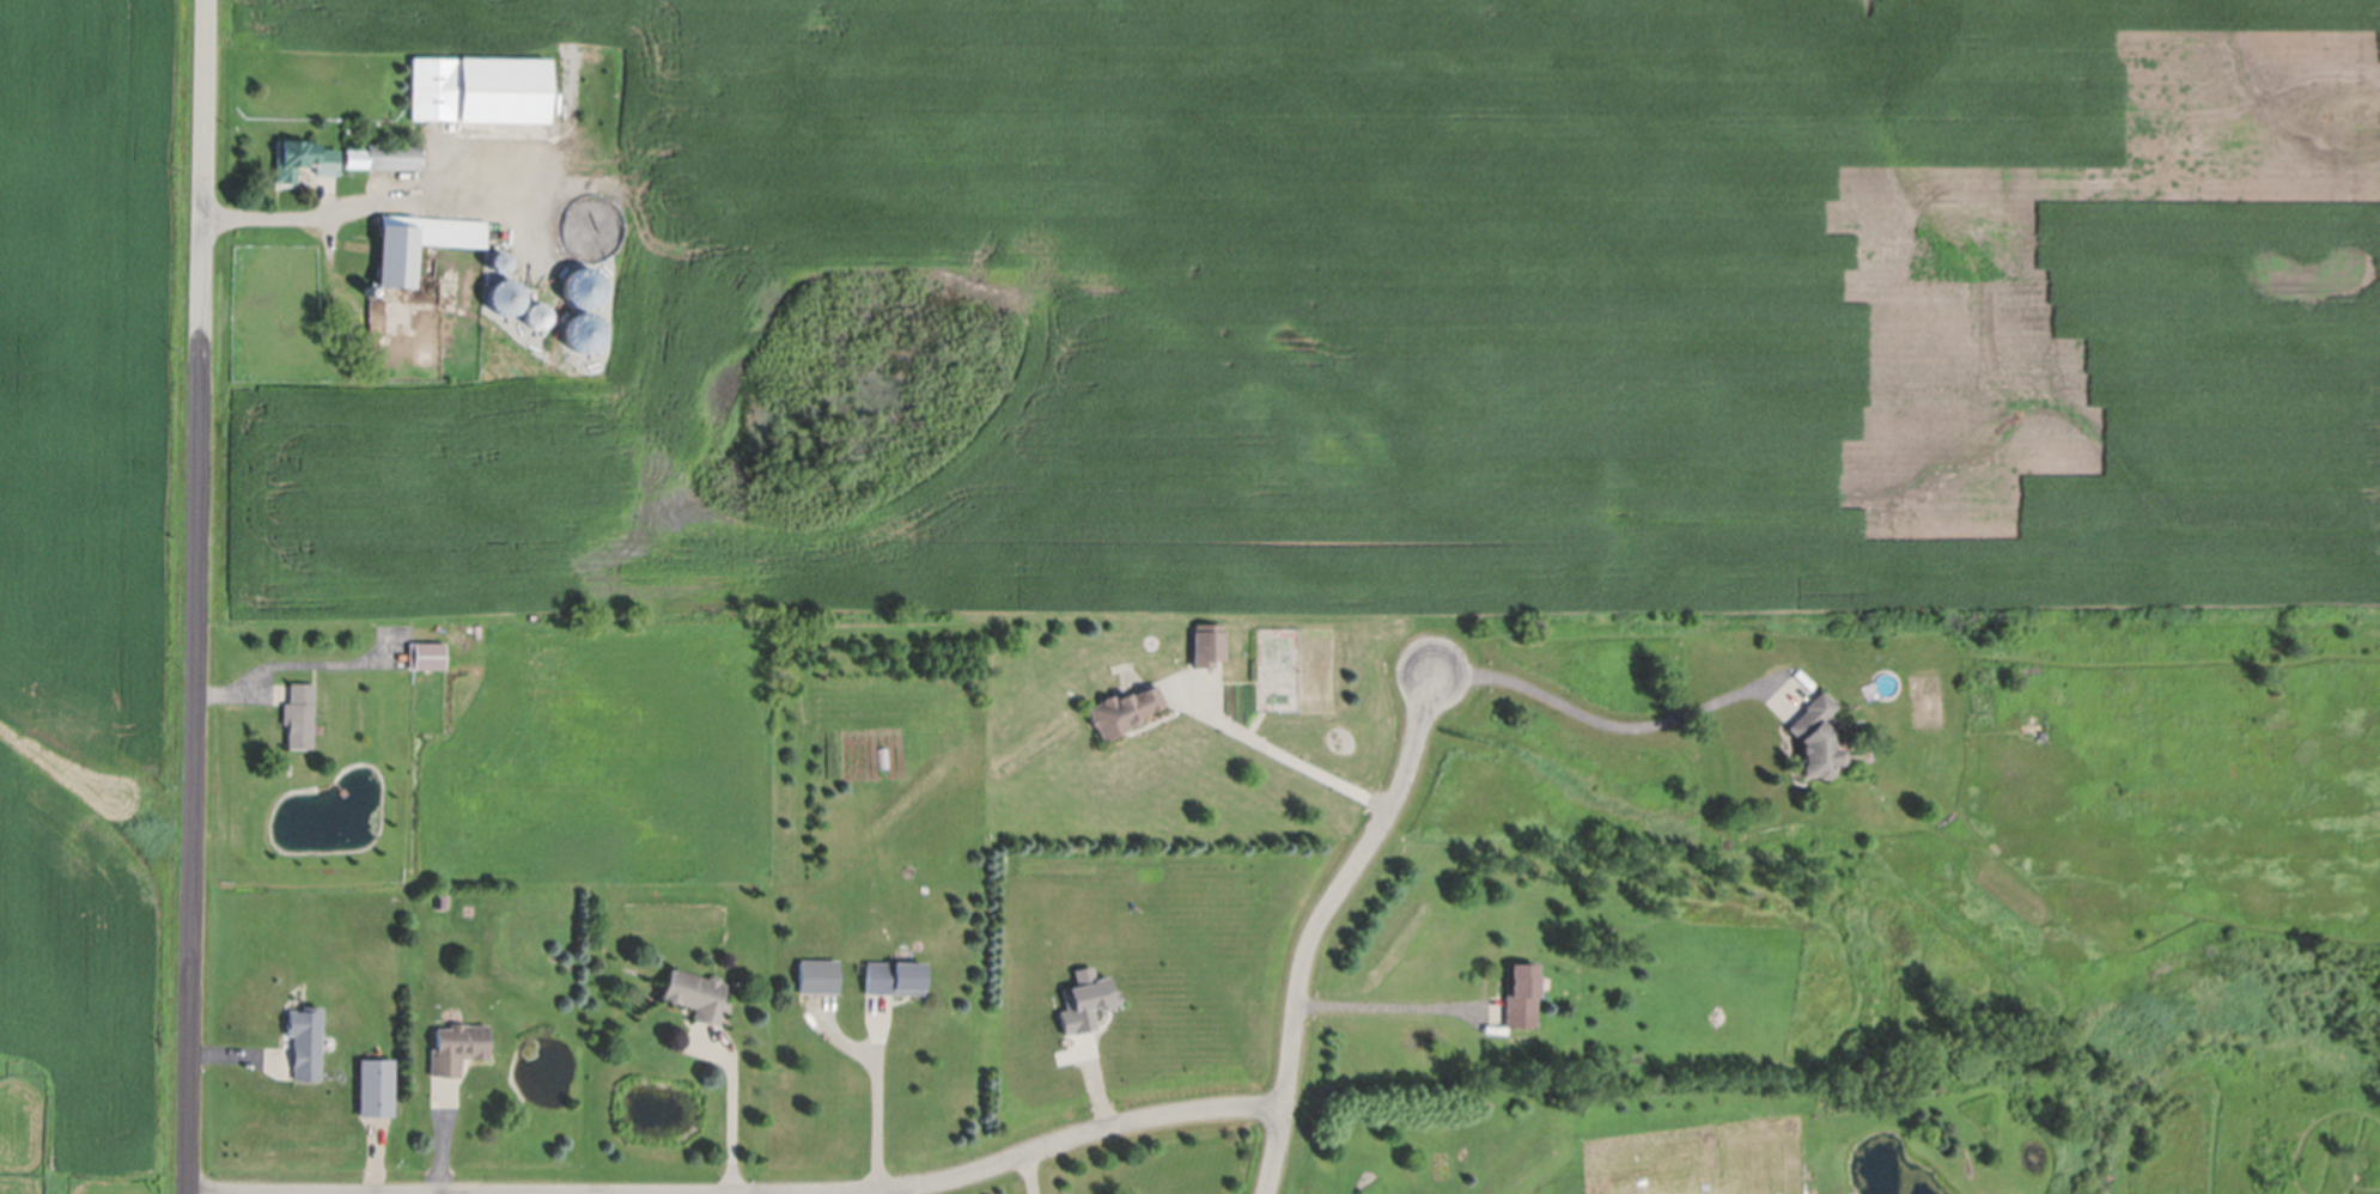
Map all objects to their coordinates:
building: (480, 95)
building: (385, 159)
building: (303, 164)
road: (367, 199)
building: (419, 248)
building: (509, 297)
building: (535, 315)
road: (197, 597)
building: (1207, 639)
building: (426, 651)
building: (1124, 703)
building: (299, 711)
road: (1597, 711)
building: (1814, 727)
road: (1284, 750)
building: (884, 757)
building: (442, 900)
road: (1321, 924)
building: (817, 971)
building: (895, 971)
building: (1521, 987)
building: (696, 989)
road: (1390, 993)
building: (306, 1037)
building: (457, 1043)
road: (885, 1105)
road: (741, 1113)
road: (1064, 1143)
road: (1027, 1175)

